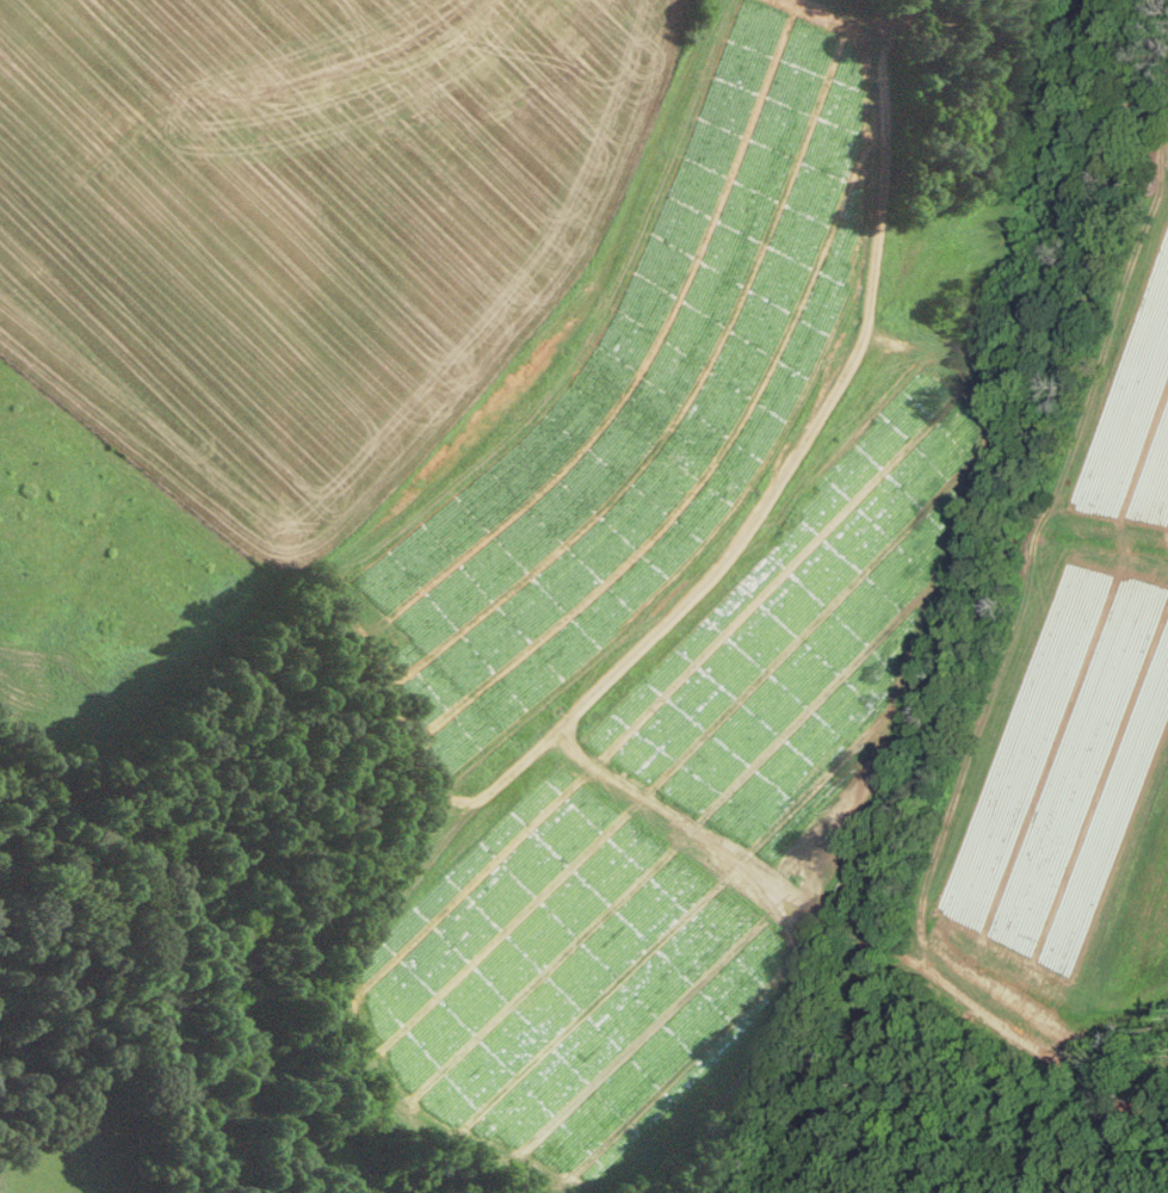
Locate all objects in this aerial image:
crop: (1068, 12)
road: (1076, 19)
road: (975, 24)
road: (789, 466)
crop: (507, 483)
road: (858, 931)
crop: (74, 1145)

